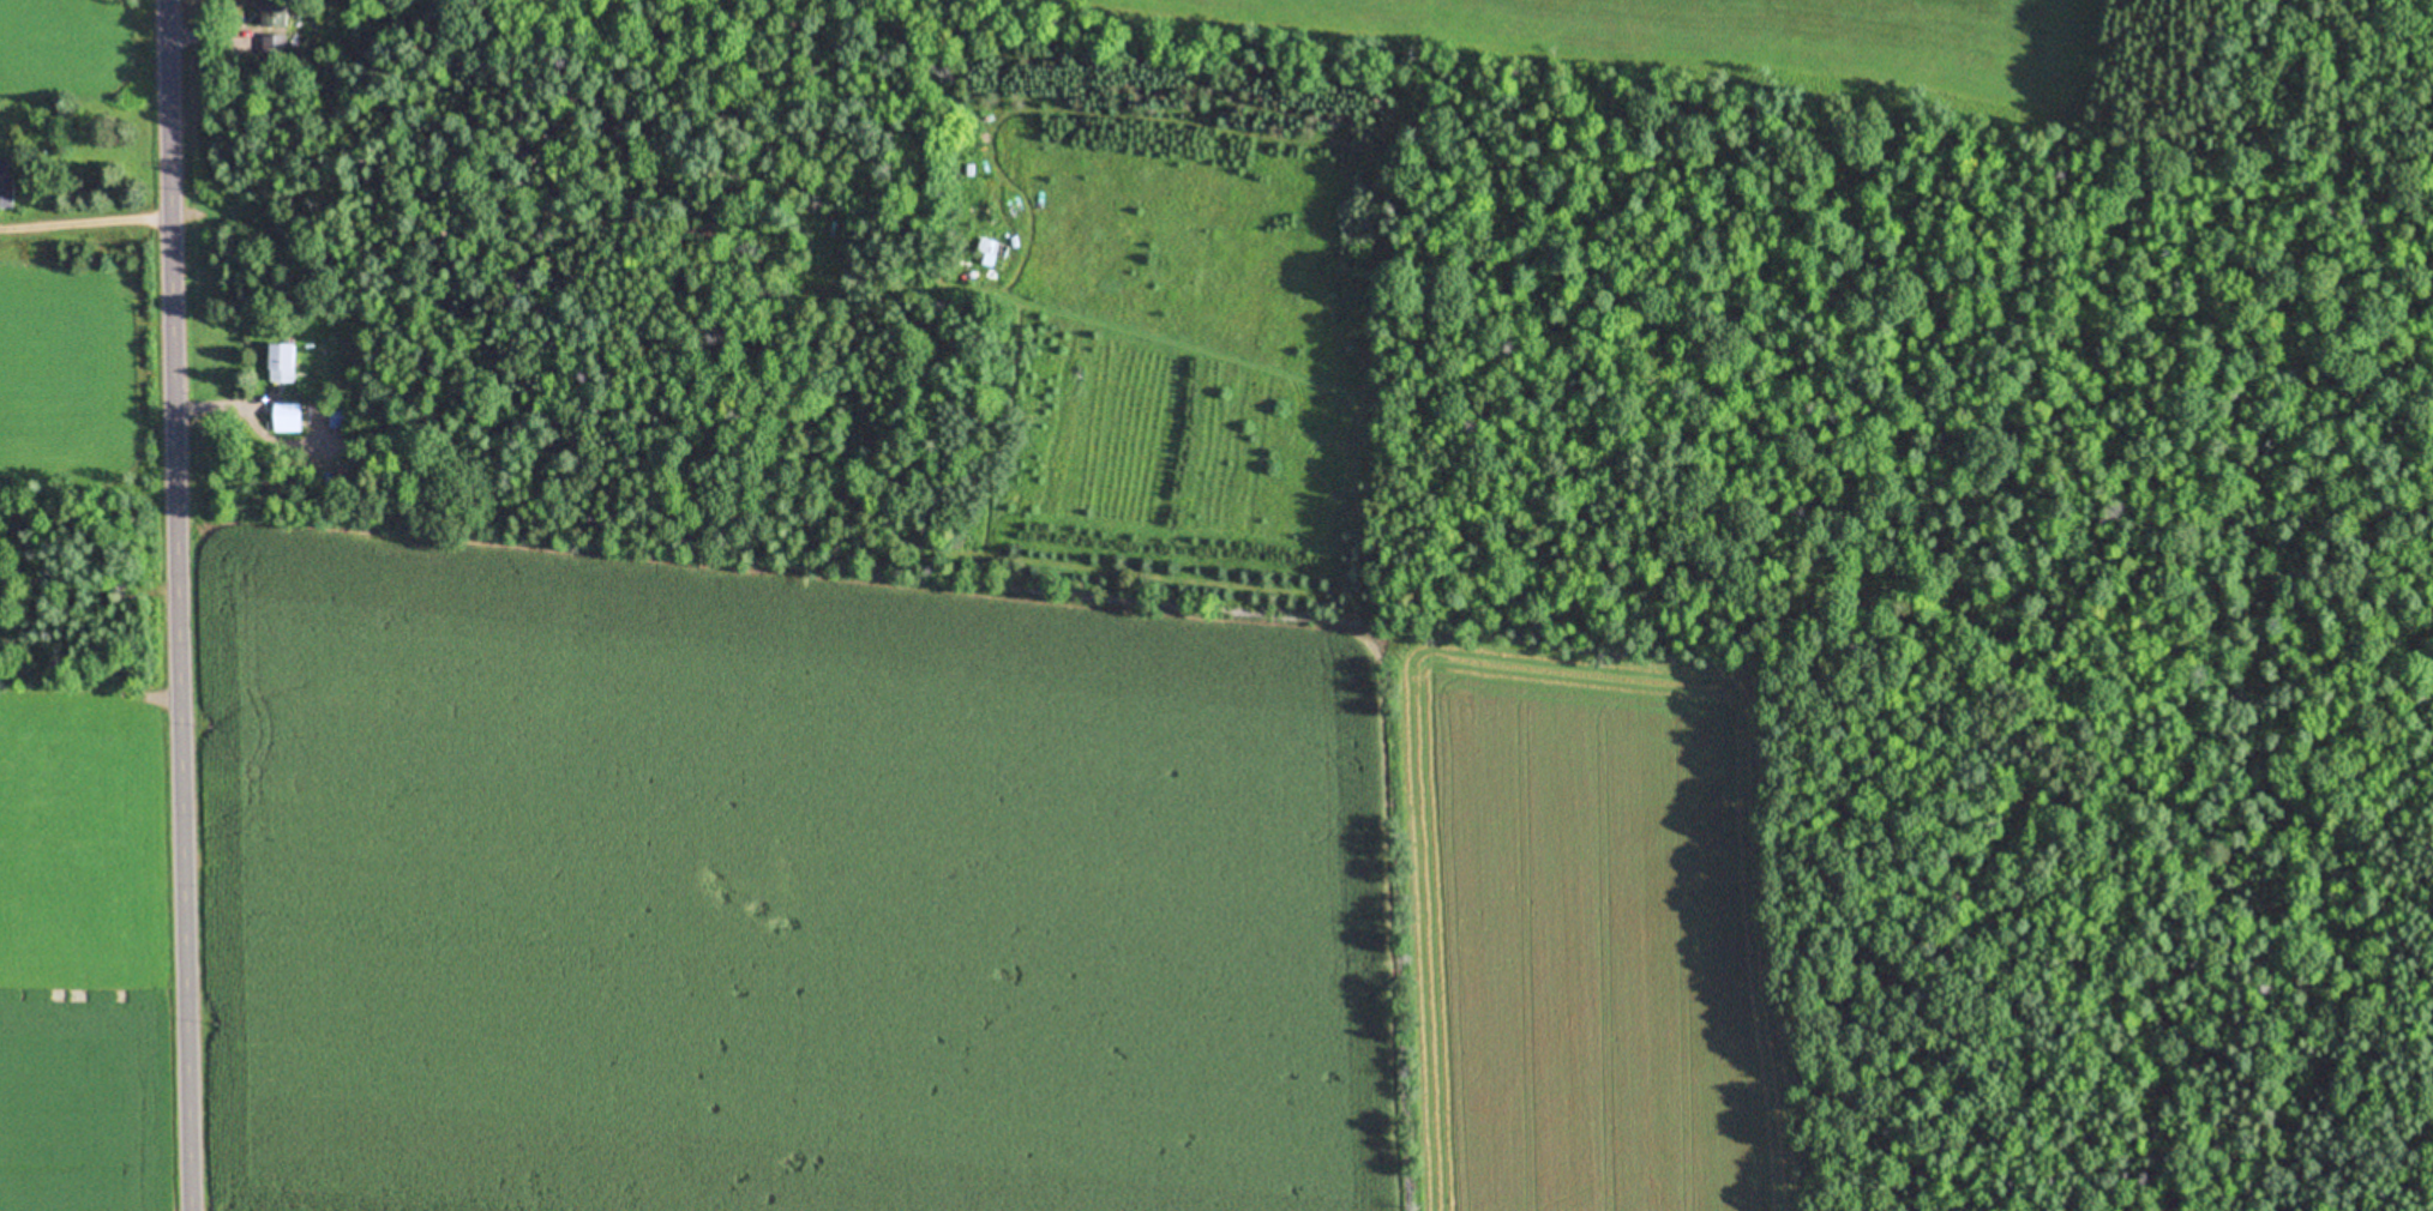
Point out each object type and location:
building: (278, 13)
building: (8, 183)
building: (288, 363)
building: (290, 418)
road: (194, 605)

